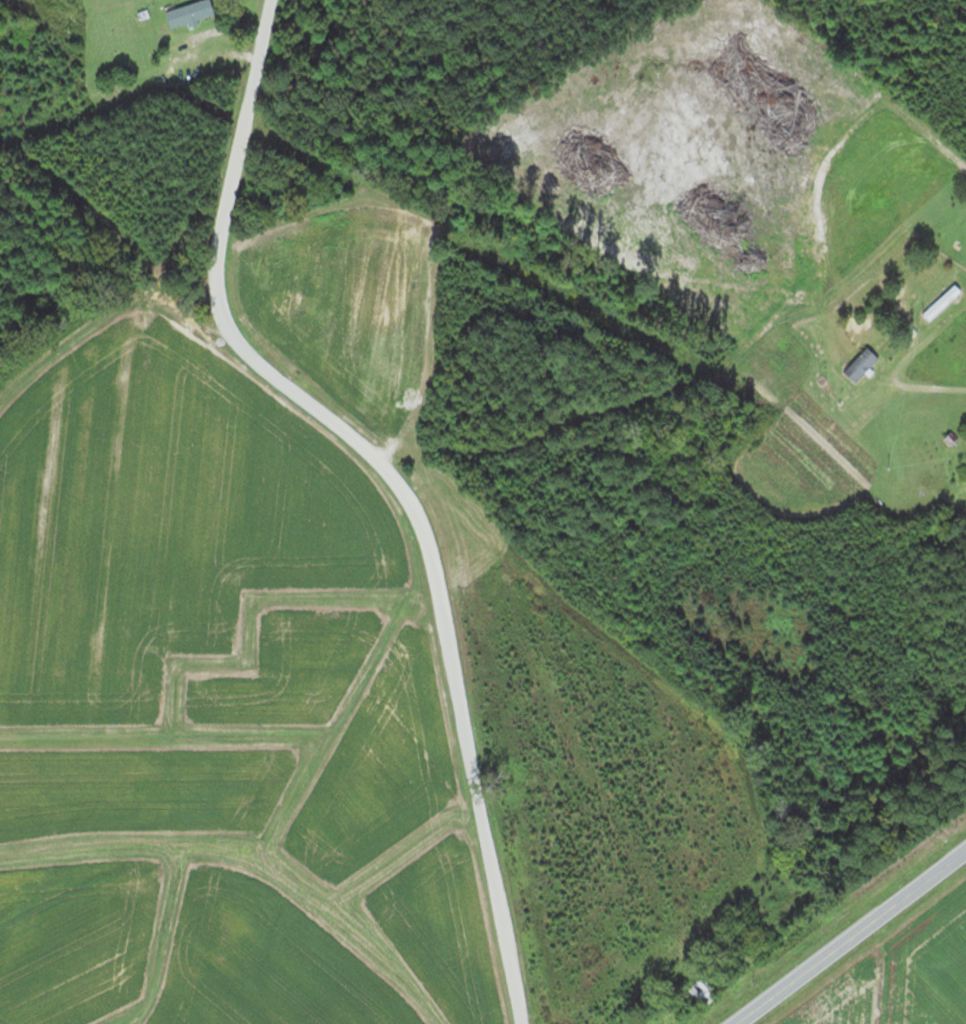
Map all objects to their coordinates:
building: (191, 13)
building: (61, 76)
road: (168, 122)
building: (942, 302)
road: (128, 337)
building: (861, 364)
road: (676, 384)
road: (870, 421)
road: (396, 478)
road: (851, 937)
building: (701, 991)

